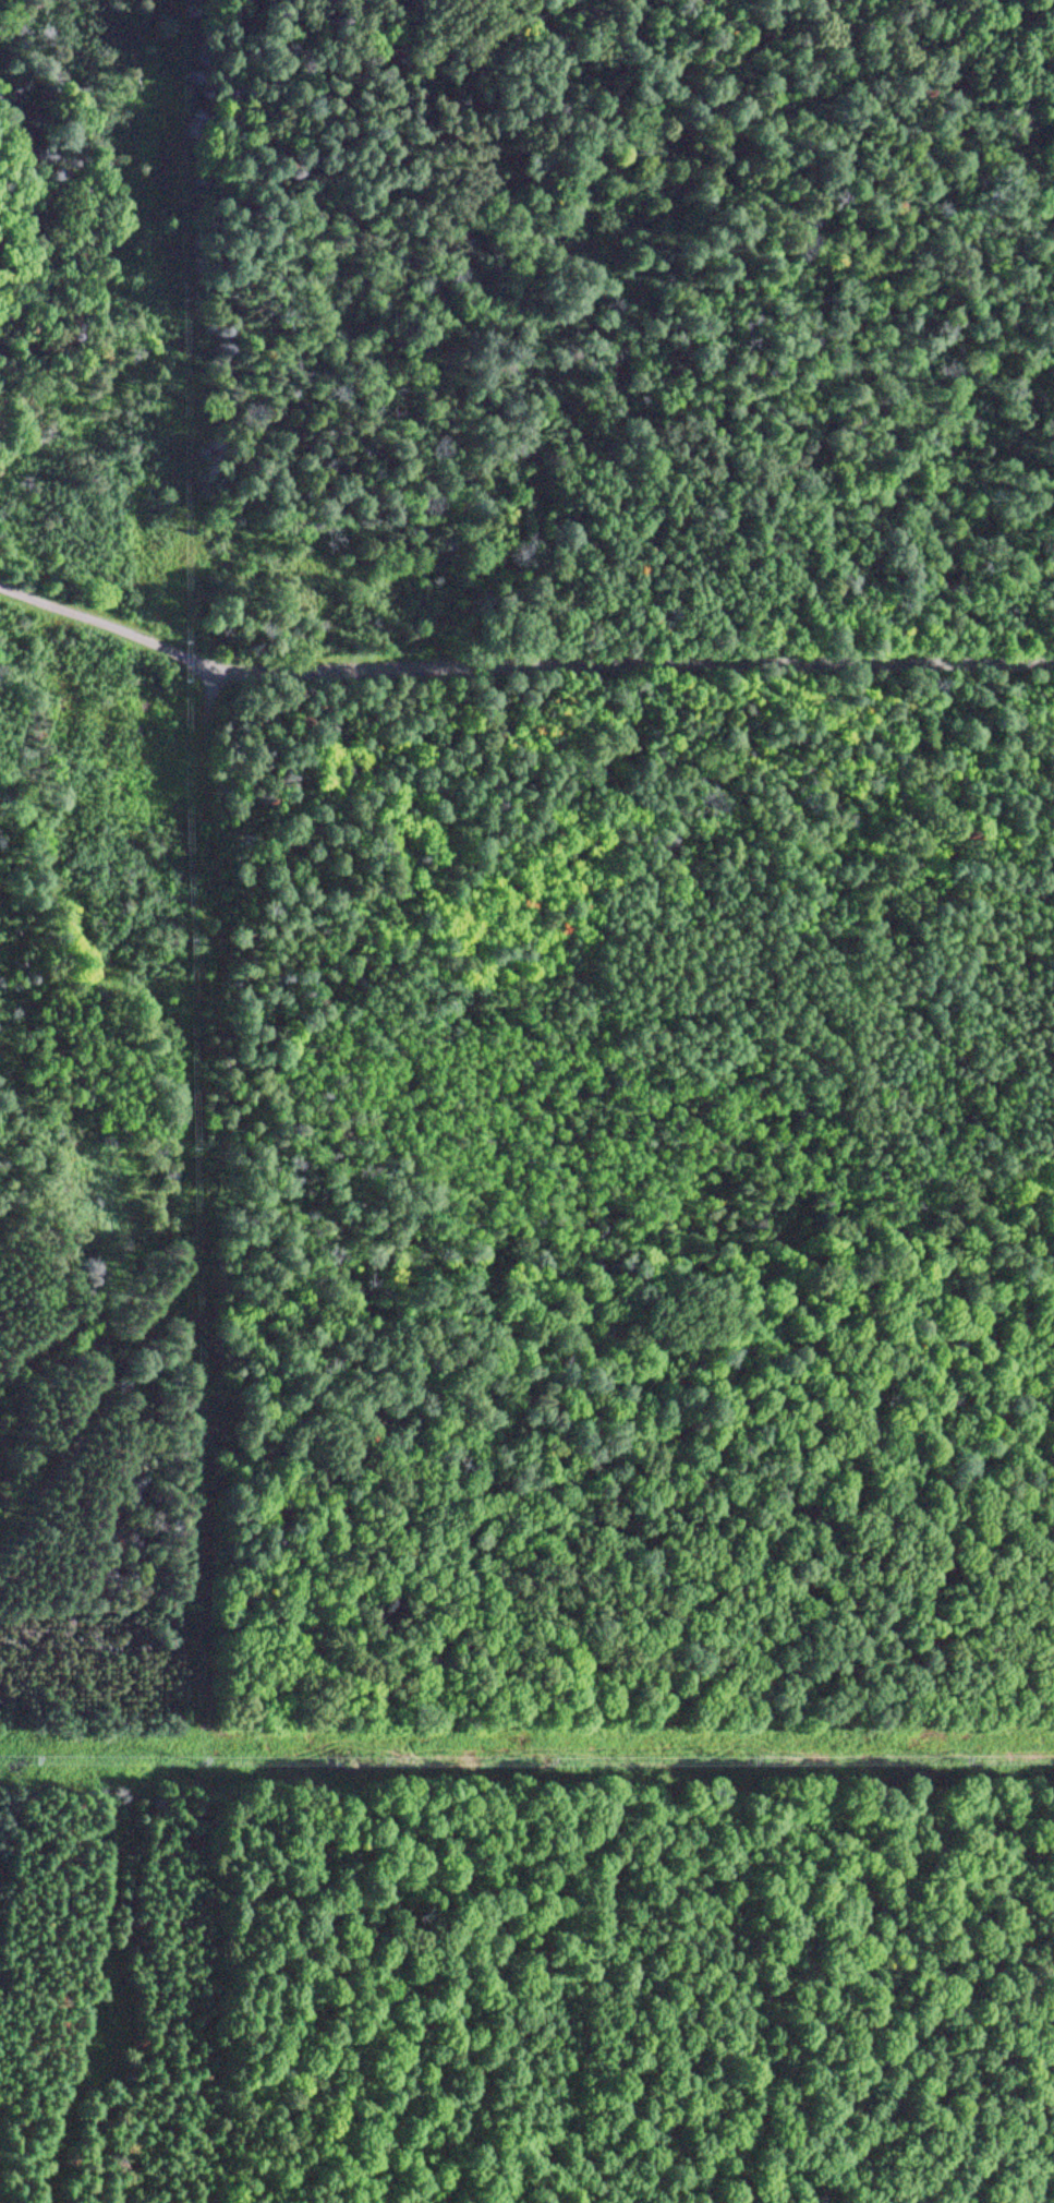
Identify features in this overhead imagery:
road: (742, 276)
road: (61, 661)
road: (541, 700)

